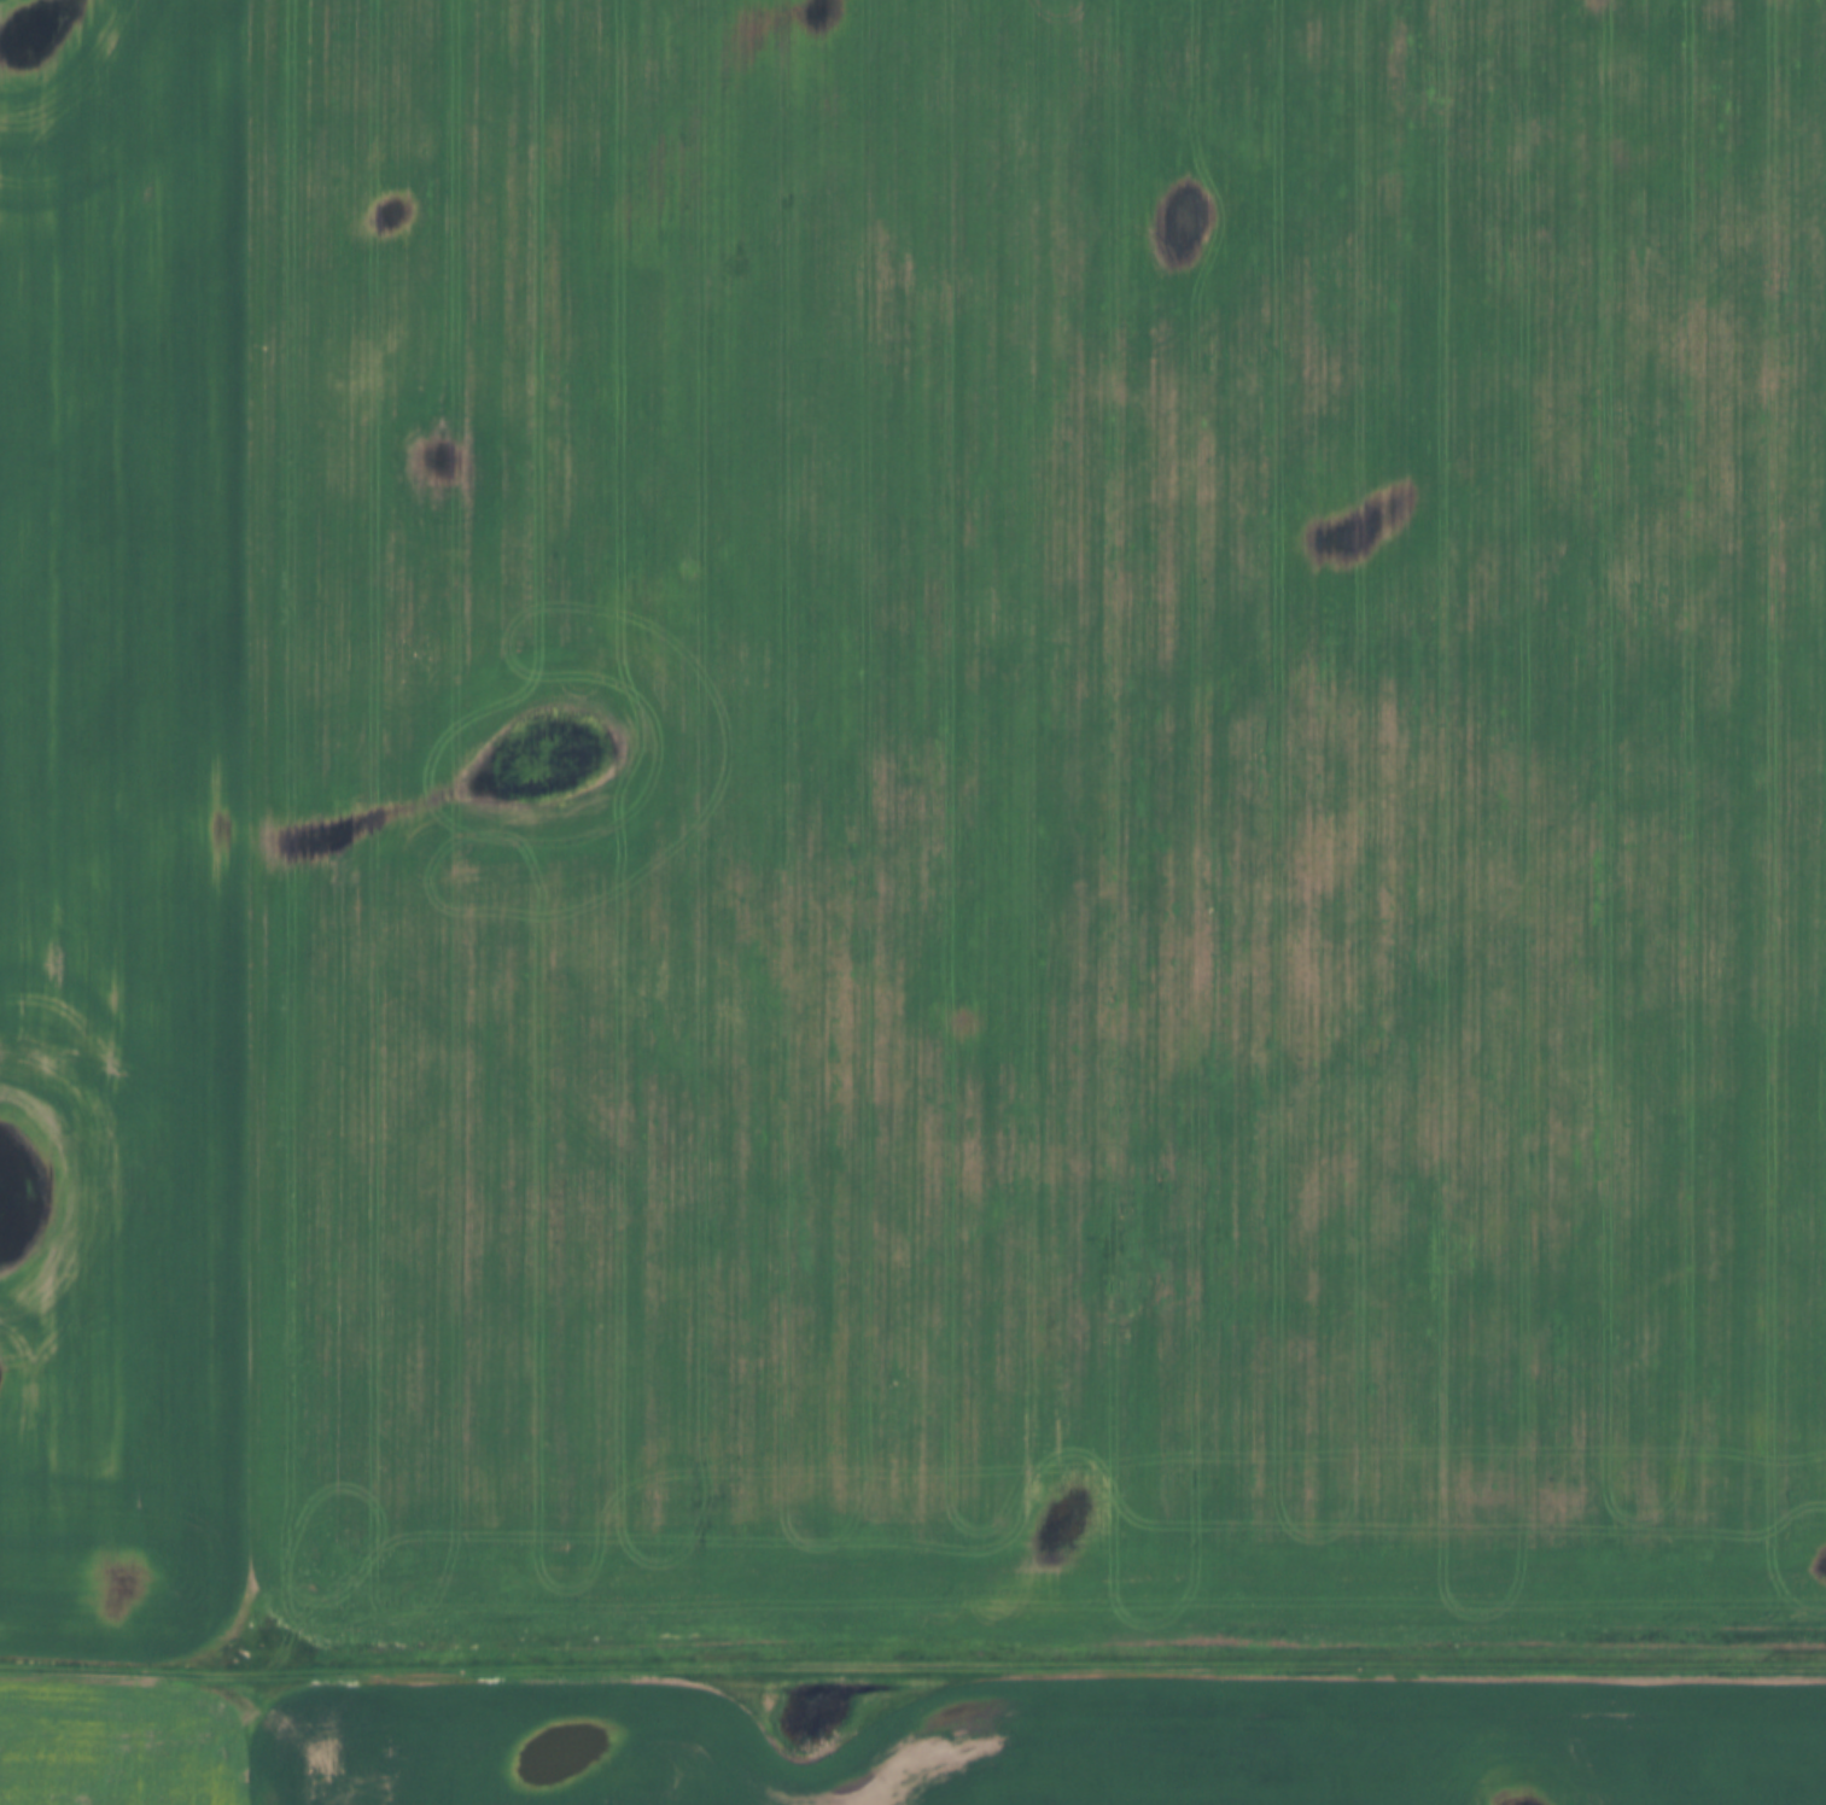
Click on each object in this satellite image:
road: (912, 1664)

